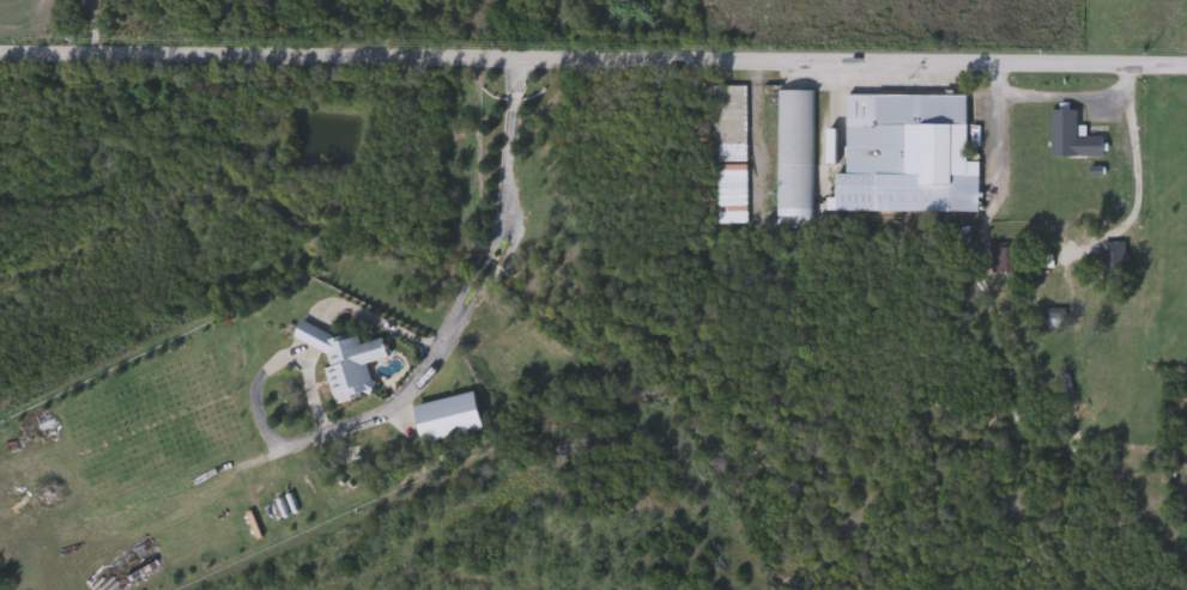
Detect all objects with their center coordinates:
road: (593, 61)
road: (1074, 97)
building: (732, 116)
road: (1007, 136)
building: (1074, 138)
building: (798, 150)
building: (909, 157)
road: (1149, 180)
building: (1009, 257)
road: (472, 303)
building: (347, 361)
building: (1068, 387)
building: (453, 419)

